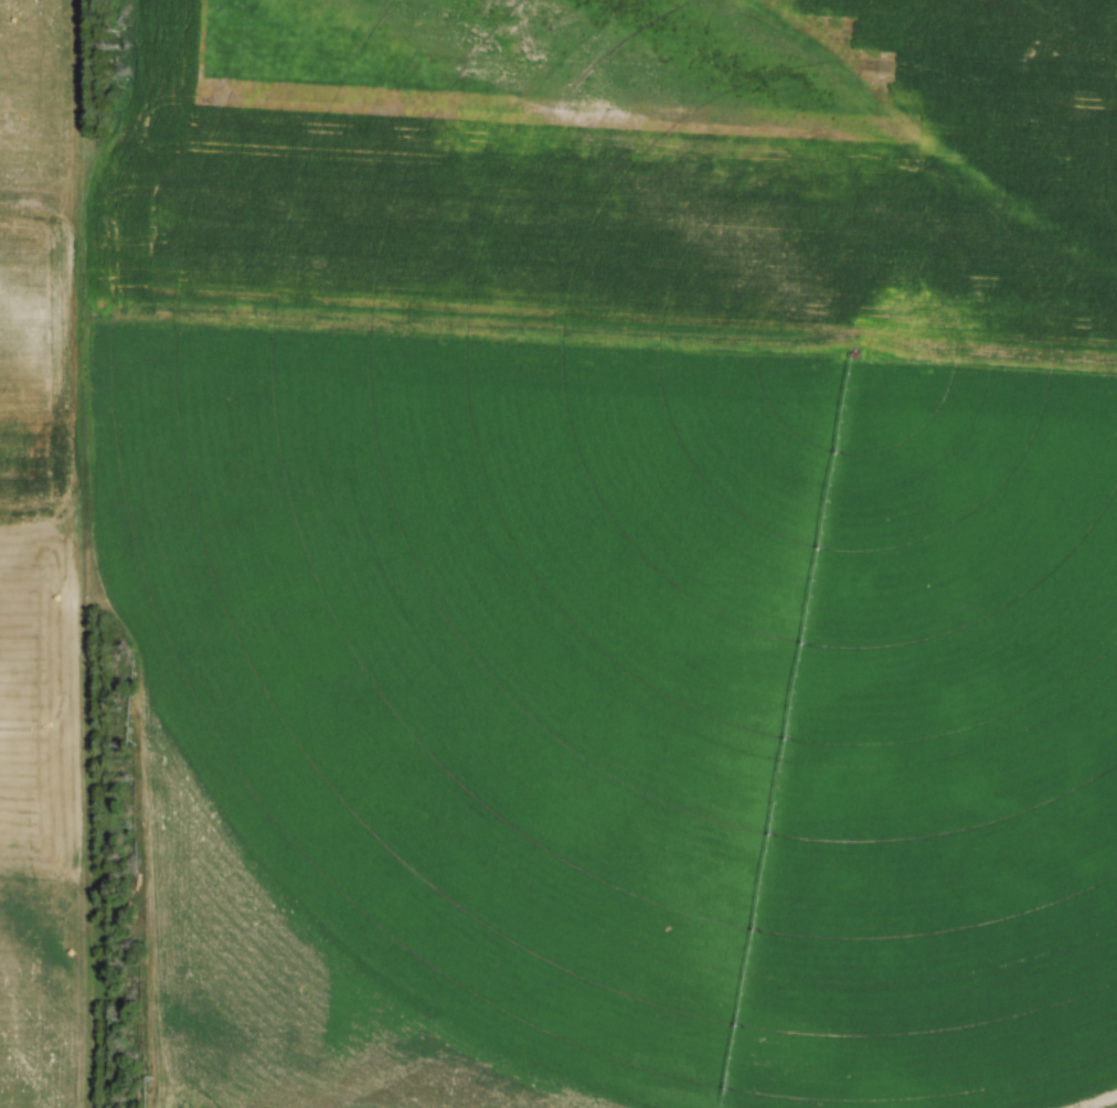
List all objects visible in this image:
building: (405, 146)

